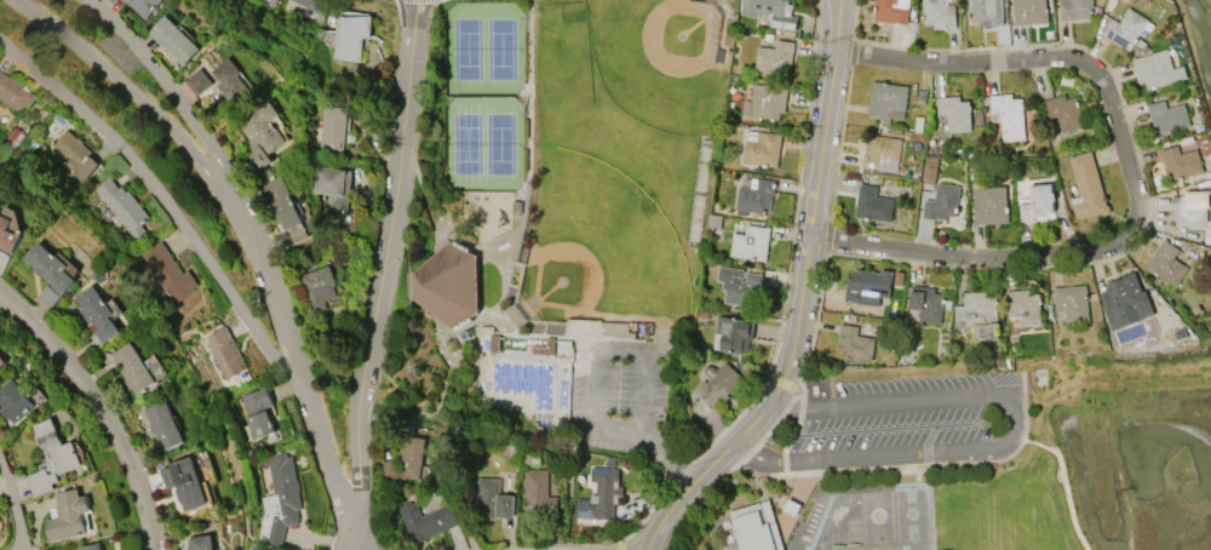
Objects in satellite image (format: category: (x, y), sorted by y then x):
building: (315, 5)
building: (143, 6)
building: (1078, 10)
building: (890, 11)
building: (1028, 11)
building: (771, 12)
building: (986, 12)
building: (939, 13)
building: (1125, 28)
building: (350, 36)
building: (173, 39)
park: (467, 48)
park: (501, 48)
park: (661, 56)
building: (774, 57)
building: (1157, 69)
building: (197, 81)
building: (229, 81)
road: (167, 84)
road: (127, 85)
building: (12, 93)
building: (888, 99)
building: (765, 101)
building: (1064, 111)
building: (954, 113)
building: (1008, 115)
building: (1167, 116)
building: (332, 130)
building: (262, 134)
park: (466, 143)
park: (500, 143)
building: (762, 149)
building: (880, 151)
building: (75, 154)
building: (1181, 161)
road: (1132, 179)
building: (1086, 187)
building: (332, 193)
road: (166, 194)
building: (754, 195)
building: (1035, 201)
building: (941, 202)
building: (872, 204)
building: (989, 205)
building: (122, 206)
building: (283, 208)
building: (1190, 213)
park: (562, 219)
building: (7, 235)
building: (750, 242)
park: (599, 248)
building: (1165, 263)
building: (168, 273)
building: (50, 274)
road: (381, 274)
building: (447, 283)
building: (737, 285)
building: (317, 286)
building: (867, 286)
road: (799, 299)
building: (1125, 300)
building: (1072, 302)
building: (926, 304)
building: (1023, 306)
building: (96, 313)
building: (977, 314)
building: (614, 328)
building: (733, 333)
building: (855, 343)
road: (598, 349)
building: (224, 353)
building: (0, 360)
road: (299, 362)
building: (131, 367)
building: (717, 383)
parking lot: (620, 393)
building: (12, 401)
road: (104, 406)
building: (258, 412)
building: (162, 424)
road: (1010, 437)
road: (666, 452)
road: (4, 457)
building: (51, 457)
building: (404, 459)
road: (917, 468)
road: (1063, 477)
building: (184, 481)
track: (878, 487)
building: (536, 492)
building: (599, 494)
building: (279, 499)
building: (490, 499)
road: (17, 506)
park: (911, 514)
building: (67, 515)
park: (877, 515)
building: (424, 520)
building: (756, 527)
park: (837, 540)
park: (853, 540)
building: (199, 542)
building: (90, 546)
track: (805, 548)
building: (256, 549)

